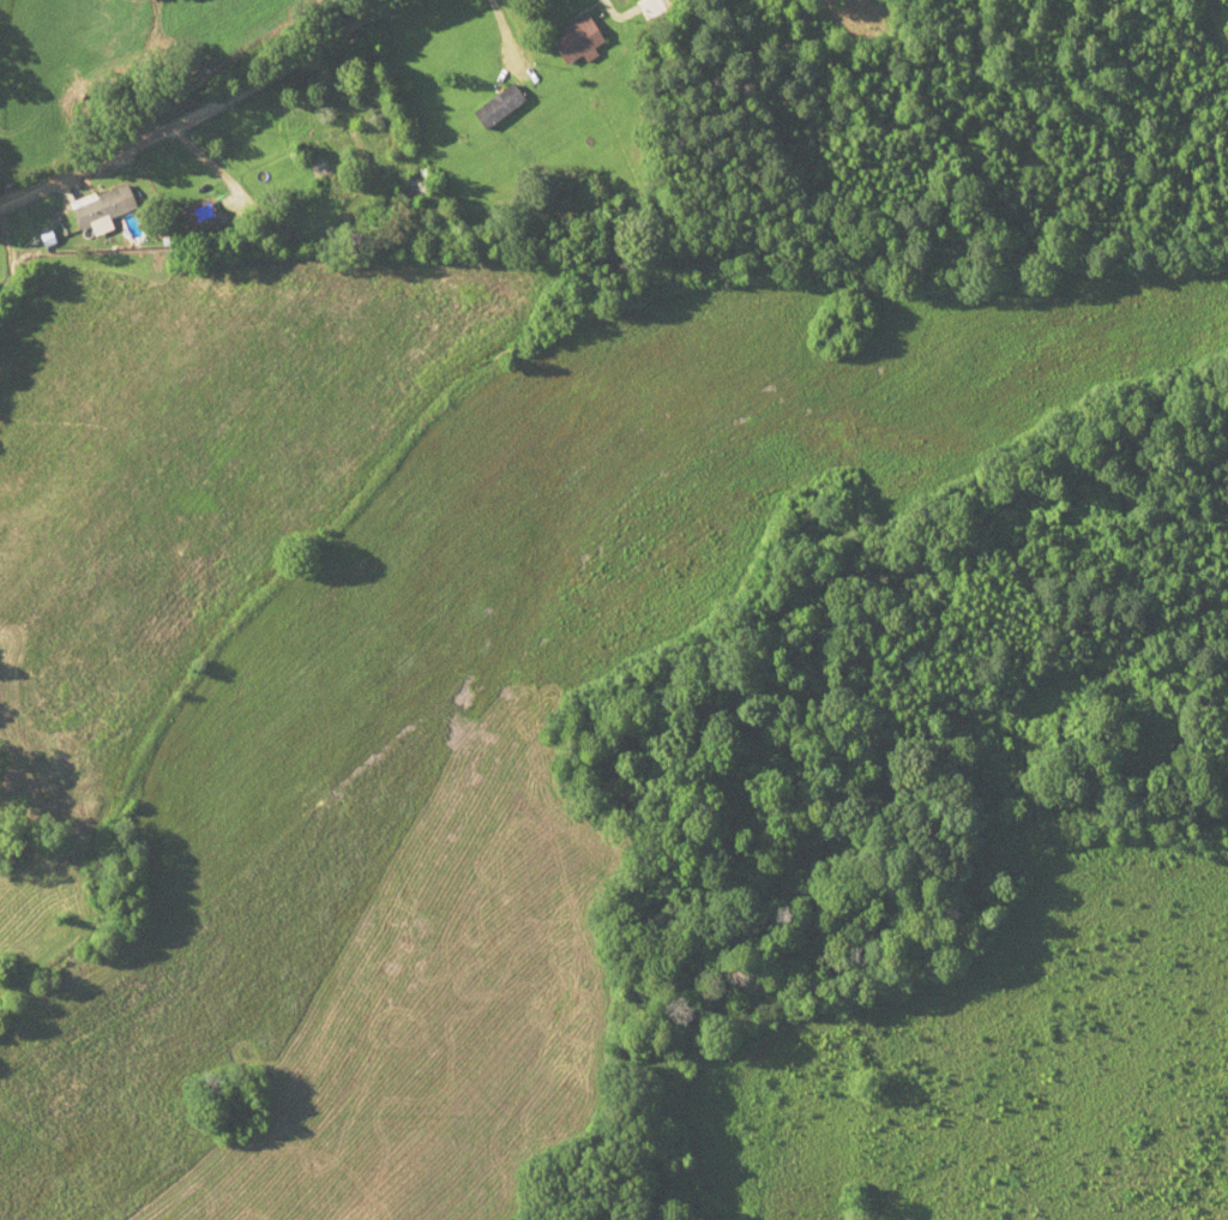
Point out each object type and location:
building: (661, 8)
building: (589, 42)
building: (508, 107)
road: (195, 109)
building: (422, 186)
building: (109, 206)
building: (204, 220)

